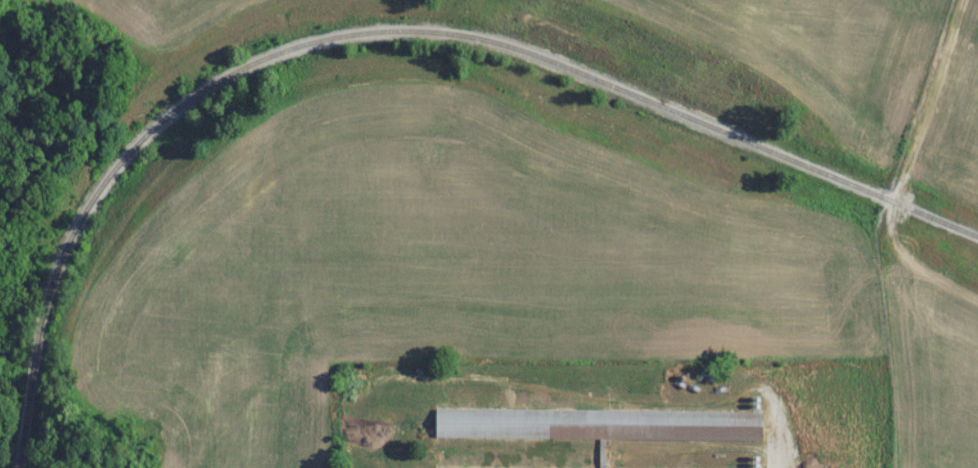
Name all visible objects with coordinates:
railway: (385, 35)
building: (596, 428)
road: (774, 435)
building: (614, 459)

